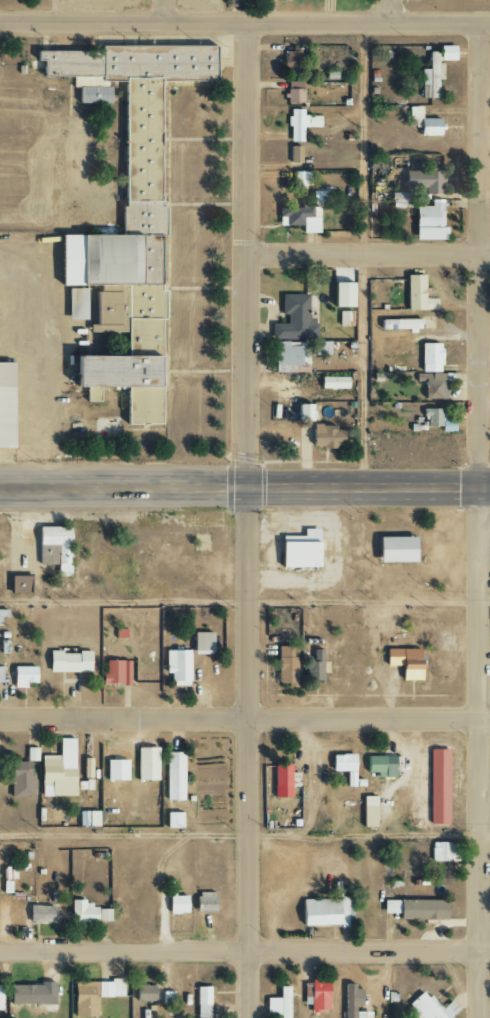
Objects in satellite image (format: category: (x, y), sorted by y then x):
building: (231, 3)
road: (54, 11)
road: (165, 11)
road: (271, 11)
road: (389, 11)
road: (245, 23)
building: (446, 53)
building: (292, 63)
building: (430, 77)
building: (293, 92)
building: (424, 123)
building: (299, 124)
road: (208, 139)
building: (294, 155)
building: (301, 180)
building: (318, 197)
road: (208, 203)
building: (294, 215)
building: (429, 221)
building: (129, 223)
road: (368, 251)
road: (362, 253)
road: (168, 265)
road: (207, 288)
building: (413, 292)
building: (341, 295)
building: (430, 304)
building: (294, 319)
building: (400, 325)
building: (290, 357)
building: (429, 358)
building: (332, 383)
building: (432, 385)
building: (5, 406)
building: (301, 413)
building: (437, 420)
building: (346, 435)
building: (325, 437)
road: (245, 485)
road: (245, 520)
road: (477, 520)
building: (55, 545)
building: (393, 549)
building: (299, 550)
building: (45, 555)
building: (18, 584)
road: (245, 601)
building: (2, 614)
building: (119, 633)
building: (201, 642)
building: (68, 662)
building: (402, 662)
building: (177, 666)
building: (285, 666)
building: (313, 666)
building: (115, 673)
building: (0, 674)
building: (22, 676)
road: (244, 715)
building: (343, 766)
building: (380, 766)
building: (116, 770)
building: (146, 770)
building: (22, 775)
building: (173, 776)
building: (283, 781)
building: (438, 787)
building: (367, 816)
building: (87, 818)
building: (172, 820)
road: (245, 834)
building: (443, 852)
building: (204, 902)
building: (176, 904)
building: (415, 909)
building: (325, 911)
building: (87, 913)
building: (39, 914)
road: (245, 949)
building: (109, 988)
building: (144, 994)
building: (23, 995)
building: (0, 996)
building: (318, 996)
building: (84, 999)
building: (163, 999)
building: (202, 1002)
building: (352, 1002)
building: (278, 1003)
building: (430, 1008)

